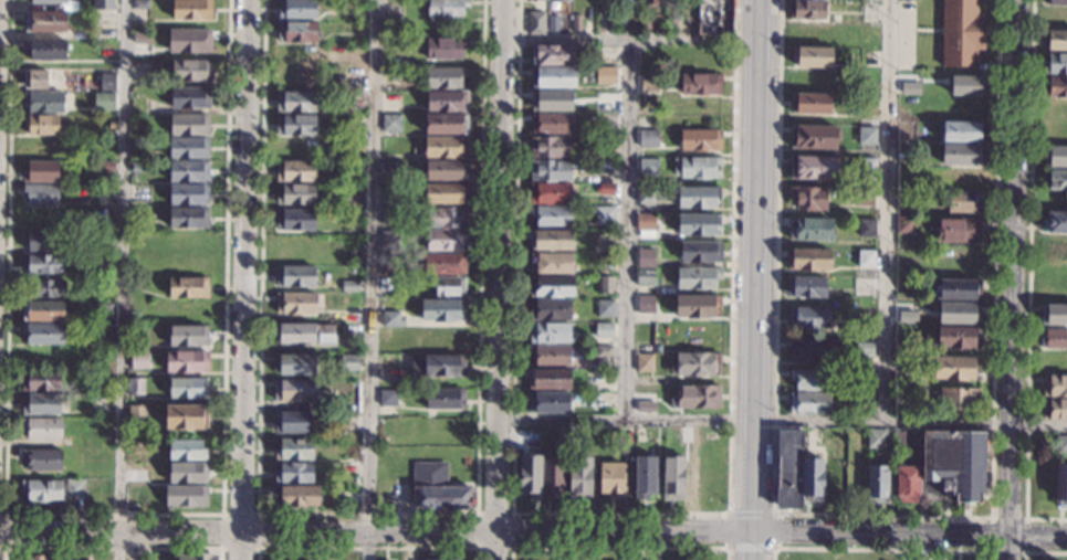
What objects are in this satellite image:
building: (558, 0)
building: (49, 1)
building: (533, 1)
building: (627, 1)
building: (1055, 2)
building: (650, 3)
building: (103, 4)
building: (142, 4)
building: (82, 7)
road: (756, 7)
building: (446, 8)
building: (297, 9)
building: (806, 9)
building: (191, 10)
building: (714, 15)
building: (646, 21)
building: (46, 22)
building: (576, 22)
building: (610, 22)
building: (535, 23)
building: (552, 23)
building: (623, 23)
road: (914, 29)
building: (297, 32)
parking lot: (897, 33)
building: (960, 33)
building: (82, 34)
building: (140, 39)
building: (189, 40)
road: (628, 40)
building: (1057, 40)
building: (108, 49)
building: (444, 49)
building: (45, 50)
building: (552, 54)
building: (296, 55)
building: (607, 56)
building: (812, 57)
building: (1056, 64)
building: (191, 71)
building: (607, 75)
building: (144, 77)
building: (356, 77)
building: (444, 77)
building: (553, 77)
building: (35, 78)
building: (296, 78)
building: (107, 82)
building: (648, 82)
building: (700, 84)
building: (963, 85)
building: (1055, 87)
building: (190, 97)
building: (355, 101)
building: (447, 101)
building: (552, 101)
building: (44, 102)
building: (103, 102)
building: (295, 102)
building: (867, 103)
building: (809, 104)
building: (391, 123)
building: (446, 123)
building: (552, 124)
building: (41, 125)
building: (189, 125)
building: (295, 125)
building: (112, 126)
building: (139, 130)
building: (962, 131)
building: (866, 136)
building: (814, 137)
building: (647, 139)
building: (700, 139)
building: (139, 144)
building: (606, 144)
building: (446, 147)
building: (551, 147)
building: (189, 148)
building: (962, 154)
building: (1055, 156)
building: (105, 167)
building: (139, 167)
building: (648, 167)
building: (607, 168)
building: (697, 168)
building: (813, 168)
building: (391, 170)
building: (446, 170)
building: (550, 170)
building: (866, 170)
building: (41, 171)
building: (189, 171)
building: (295, 171)
building: (906, 173)
building: (969, 177)
building: (1055, 180)
building: (606, 189)
building: (295, 193)
building: (446, 193)
building: (550, 193)
building: (40, 194)
building: (142, 194)
building: (188, 194)
building: (646, 194)
building: (865, 197)
building: (699, 198)
building: (808, 198)
building: (353, 200)
building: (963, 201)
road: (888, 211)
building: (605, 214)
building: (353, 215)
building: (389, 215)
building: (551, 216)
building: (188, 218)
building: (446, 218)
building: (295, 220)
building: (645, 222)
building: (1055, 222)
building: (698, 224)
building: (904, 225)
building: (866, 228)
building: (809, 229)
building: (958, 230)
road: (627, 231)
road: (753, 233)
building: (188, 240)
building: (389, 240)
building: (444, 240)
building: (38, 241)
building: (551, 241)
building: (701, 251)
building: (646, 258)
building: (866, 258)
building: (808, 260)
building: (443, 263)
building: (551, 263)
building: (42, 264)
building: (388, 271)
building: (294, 276)
building: (645, 277)
building: (698, 277)
road: (122, 279)
road: (243, 279)
road: (369, 279)
road: (498, 279)
road: (1013, 279)
road: (1028, 281)
building: (605, 284)
building: (349, 286)
building: (449, 286)
building: (551, 286)
building: (806, 286)
building: (188, 287)
building: (44, 288)
building: (958, 289)
building: (295, 304)
building: (645, 304)
building: (697, 306)
building: (604, 308)
building: (550, 309)
building: (42, 310)
building: (442, 310)
building: (103, 311)
building: (959, 313)
building: (1054, 314)
building: (908, 316)
building: (807, 317)
building: (393, 319)
building: (603, 330)
building: (104, 332)
building: (550, 332)
building: (43, 334)
building: (304, 334)
building: (956, 336)
building: (188, 337)
building: (442, 338)
building: (1054, 339)
building: (864, 348)
building: (604, 351)
building: (812, 351)
building: (550, 356)
building: (139, 361)
building: (187, 361)
building: (349, 363)
building: (645, 363)
building: (695, 363)
building: (295, 364)
building: (437, 366)
building: (387, 368)
building: (955, 369)
building: (101, 377)
building: (550, 379)
building: (810, 379)
building: (864, 379)
building: (41, 380)
building: (1055, 385)
building: (135, 387)
building: (188, 388)
building: (294, 390)
building: (390, 397)
building: (695, 397)
building: (903, 397)
building: (959, 398)
building: (444, 399)
building: (646, 399)
building: (102, 401)
building: (547, 402)
building: (808, 403)
building: (41, 404)
building: (1055, 409)
building: (136, 418)
building: (185, 418)
building: (293, 422)
road: (782, 422)
building: (42, 429)
building: (629, 435)
building: (686, 435)
building: (876, 439)
building: (552, 440)
building: (901, 441)
building: (1061, 444)
building: (187, 450)
building: (294, 450)
building: (42, 459)
building: (954, 463)
building: (789, 468)
building: (294, 472)
building: (187, 473)
building: (531, 476)
building: (644, 476)
building: (552, 477)
building: (673, 477)
building: (579, 478)
building: (611, 479)
building: (812, 479)
building: (877, 484)
building: (906, 484)
building: (1060, 485)
building: (75, 488)
building: (436, 489)
building: (42, 490)
road: (751, 492)
building: (130, 495)
building: (186, 496)
building: (296, 497)
road: (113, 513)
road: (366, 513)
road: (619, 514)
road: (750, 514)
road: (883, 516)
road: (4, 530)
road: (725, 530)
road: (774, 530)
road: (375, 532)
road: (908, 535)
road: (751, 546)
road: (511, 547)
road: (258, 548)
road: (367, 548)
road: (618, 548)
road: (750, 548)
road: (114, 549)
road: (879, 549)
road: (1024, 552)
road: (1042, 552)
building: (197, 557)
building: (40, 558)
building: (439, 559)

